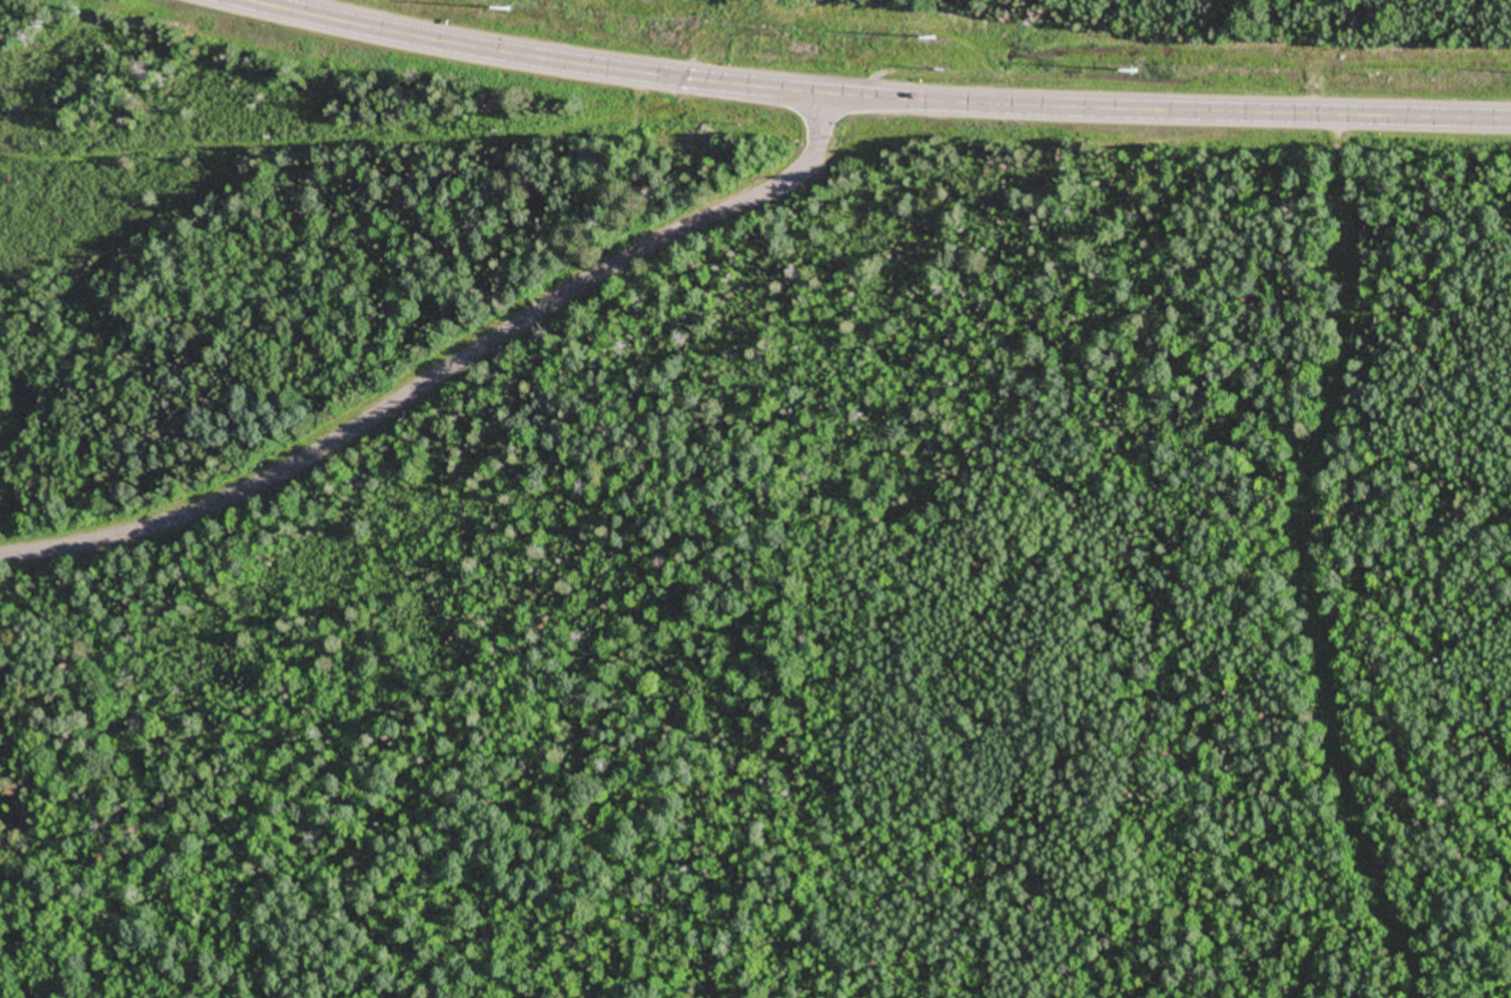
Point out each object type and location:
road: (881, 96)
road: (448, 367)

